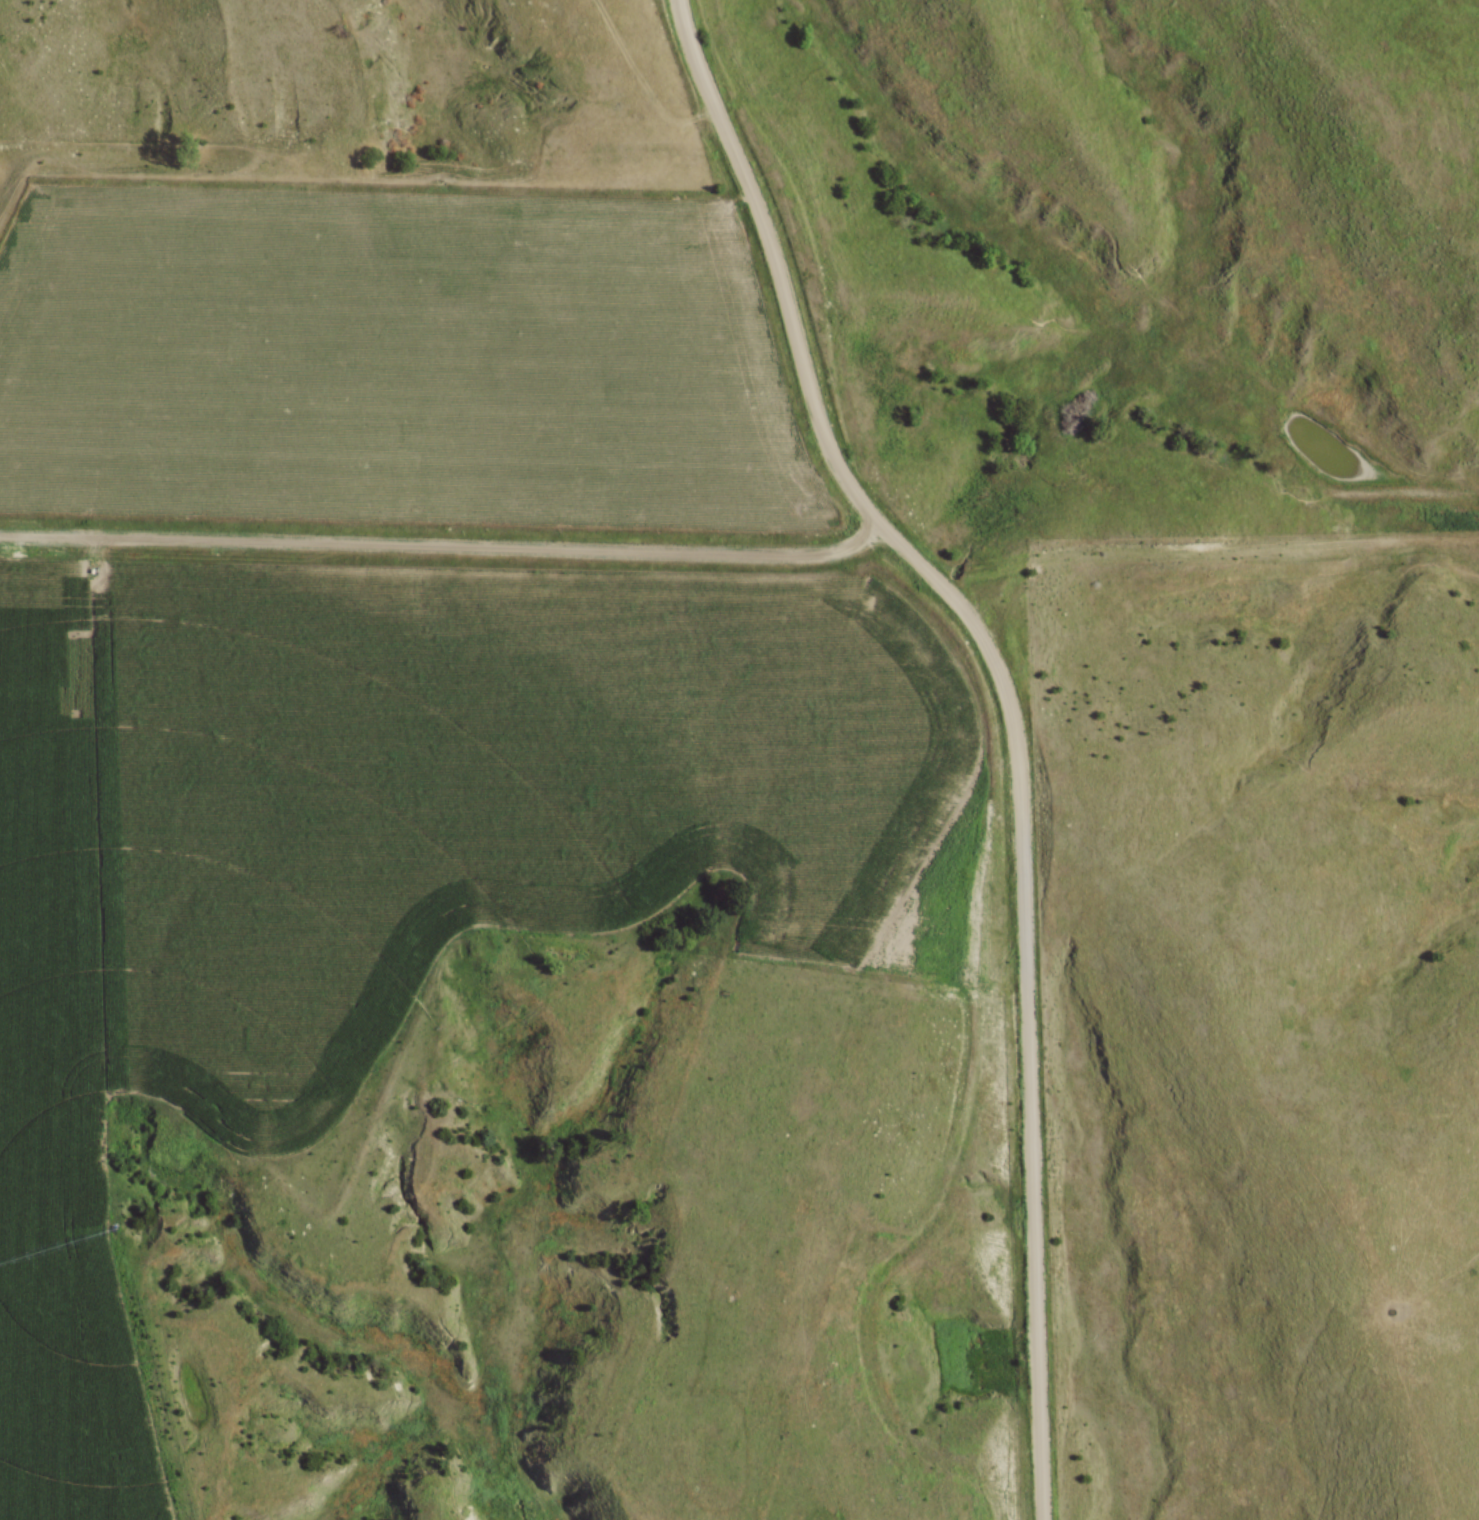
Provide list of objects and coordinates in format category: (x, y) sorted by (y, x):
crop: (390, 359)
road: (1011, 716)

